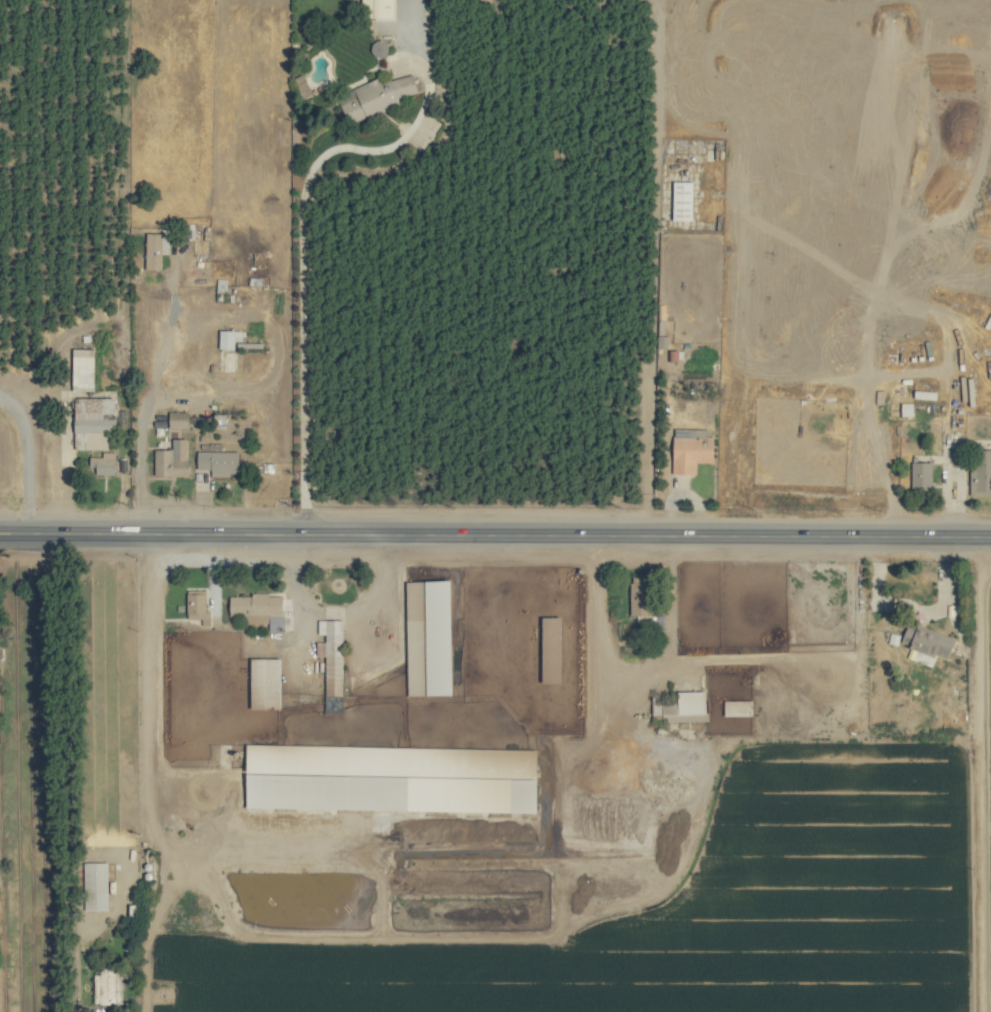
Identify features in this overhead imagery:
building: (379, 8)
building: (377, 96)
building: (683, 200)
building: (156, 248)
road: (301, 284)
building: (228, 338)
road: (749, 365)
building: (83, 368)
building: (907, 409)
building: (95, 419)
building: (179, 419)
building: (692, 449)
building: (172, 459)
road: (26, 461)
building: (219, 461)
building: (103, 463)
building: (981, 472)
building: (922, 475)
road: (952, 495)
crop: (495, 506)
road: (495, 534)
building: (640, 595)
building: (198, 606)
building: (259, 609)
road: (913, 611)
building: (928, 641)
building: (266, 682)
building: (685, 707)
crop: (483, 720)
road: (971, 774)
road: (149, 779)
building: (95, 885)
building: (108, 987)

